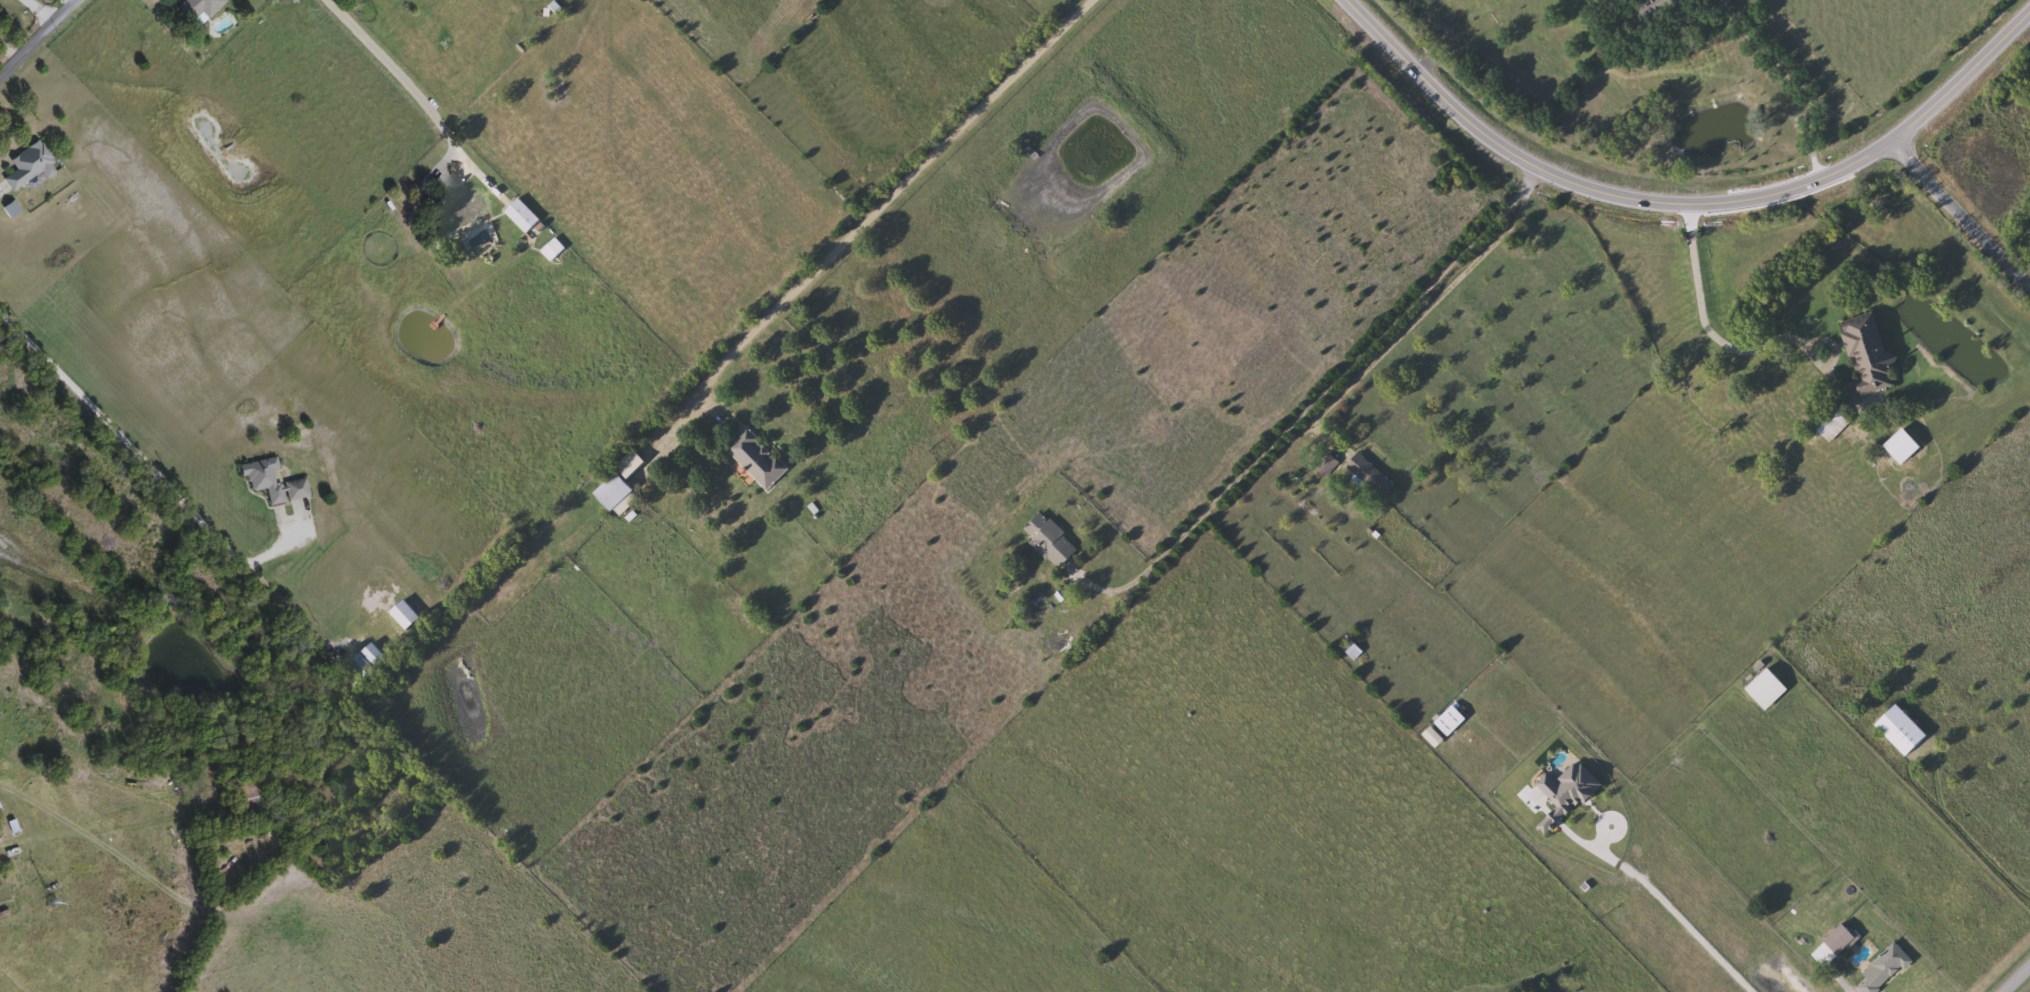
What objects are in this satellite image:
road: (67, 2)
building: (1657, 7)
road: (43, 8)
building: (203, 8)
road: (37, 37)
road: (405, 81)
building: (2016, 99)
building: (32, 167)
road: (881, 203)
road: (1681, 203)
road: (1961, 212)
building: (523, 216)
building: (464, 217)
building: (554, 250)
road: (1439, 301)
road: (1706, 320)
building: (1870, 358)
road: (1311, 403)
building: (1836, 425)
building: (1904, 447)
road: (138, 458)
building: (759, 459)
building: (1372, 476)
building: (276, 484)
building: (618, 496)
building: (577, 539)
building: (1052, 541)
road: (294, 612)
building: (1354, 652)
building: (370, 661)
building: (1768, 691)
building: (1902, 732)
building: (252, 794)
building: (0, 837)
road: (1668, 913)
building: (1842, 941)
building: (1886, 969)
road: (2014, 976)
road: (1831, 977)

